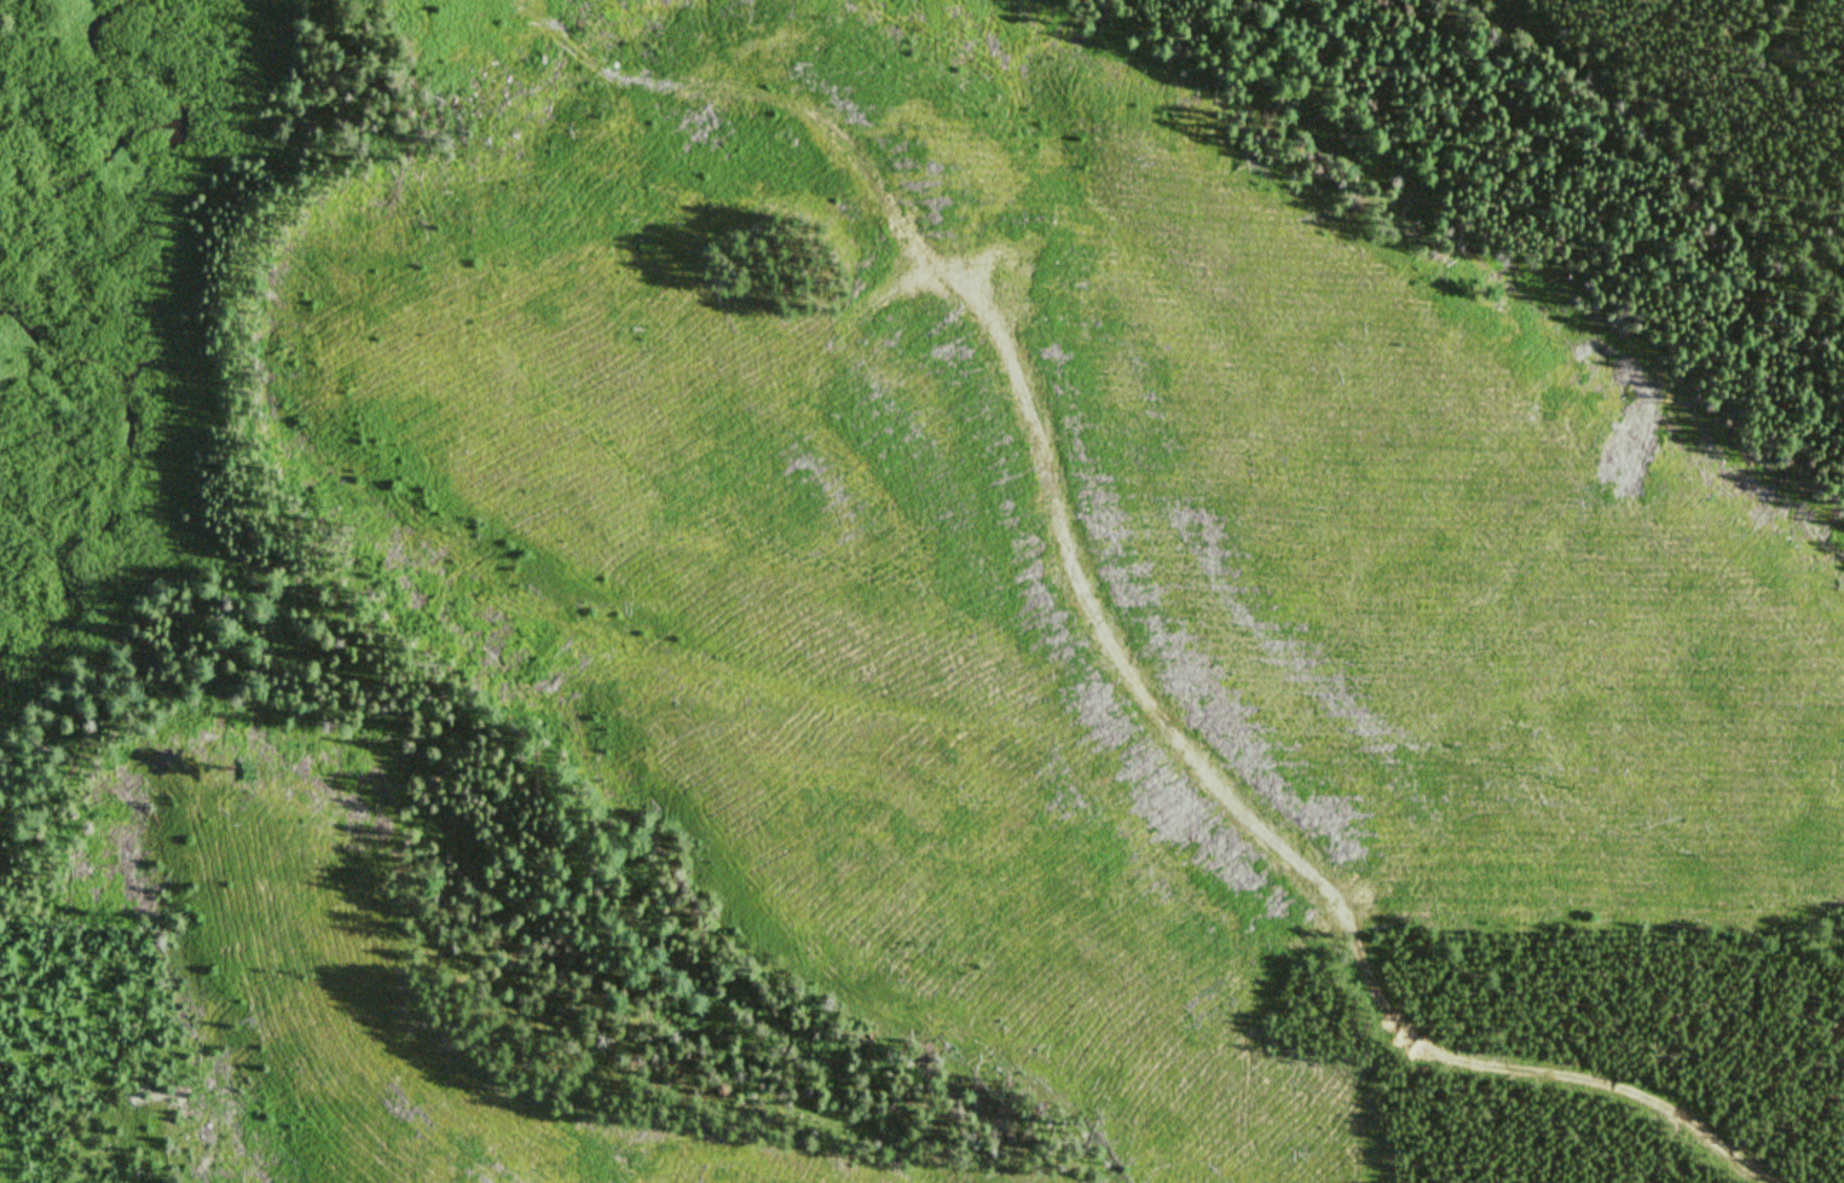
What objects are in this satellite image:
river: (143, 122)
river: (100, 492)
road: (1534, 1069)

